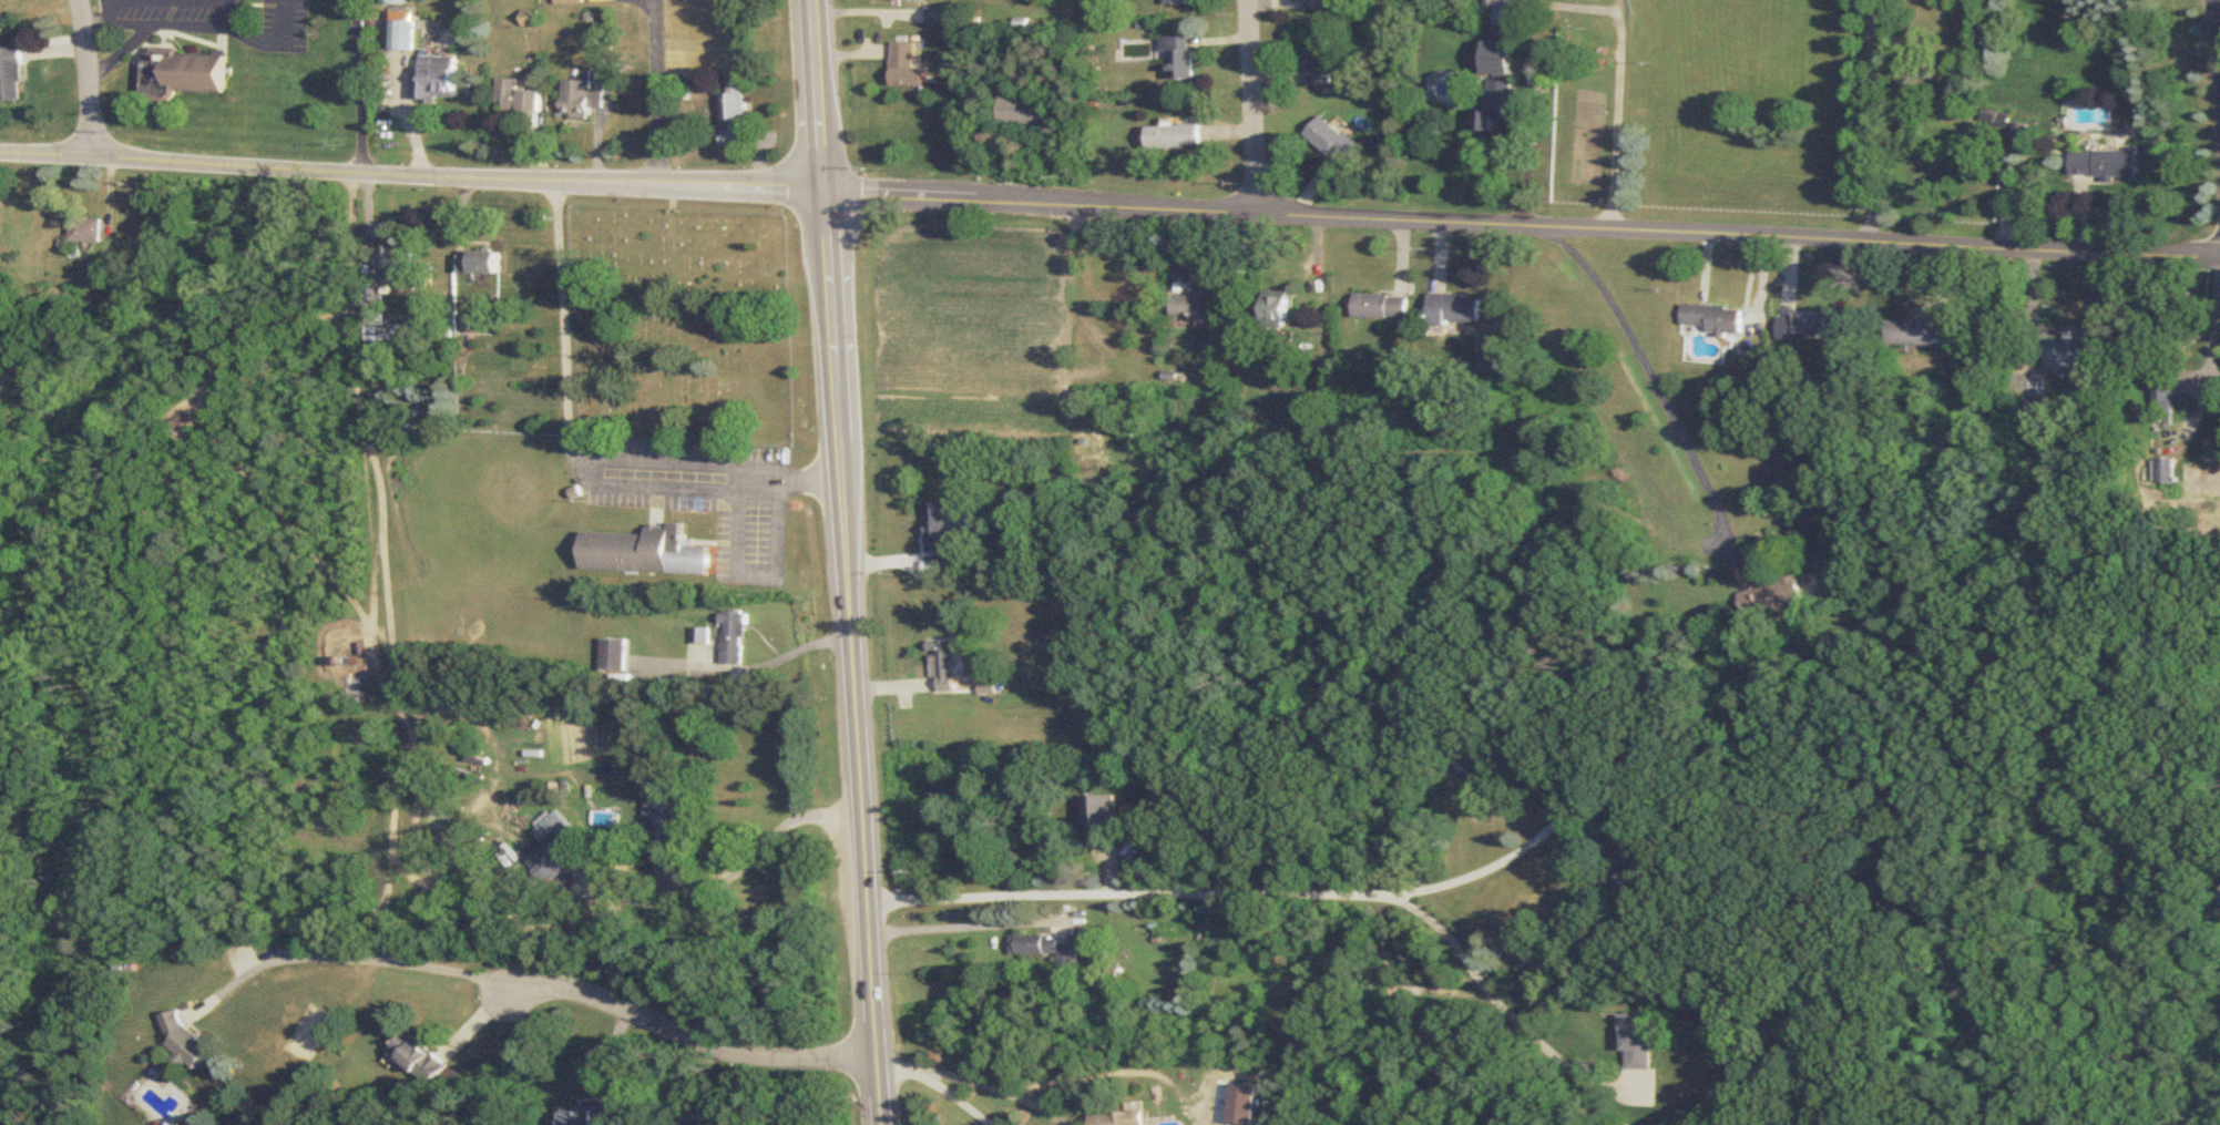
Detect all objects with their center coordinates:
building: (903, 0)
building: (3, 1)
building: (572, 2)
building: (1176, 2)
building: (1317, 4)
building: (1512, 12)
building: (940, 16)
road: (121, 24)
road: (205, 24)
building: (406, 31)
road: (2216, 35)
road: (279, 44)
road: (123, 50)
building: (1178, 58)
building: (1320, 59)
building: (1501, 64)
building: (907, 65)
building: (187, 71)
building: (12, 74)
road: (90, 78)
building: (438, 79)
road: (364, 86)
road: (658, 95)
building: (519, 98)
building: (583, 100)
building: (1497, 103)
road: (1258, 108)
building: (1027, 112)
building: (734, 115)
road: (1872, 120)
road: (416, 122)
road: (1618, 131)
building: (2022, 135)
building: (1176, 137)
building: (1332, 139)
road: (1532, 142)
building: (2105, 162)
road: (1109, 209)
building: (90, 231)
road: (828, 238)
building: (480, 264)
building: (401, 265)
building: (1198, 306)
building: (1278, 306)
building: (1383, 307)
building: (1456, 309)
building: (378, 313)
building: (1715, 319)
park: (702, 320)
building: (1810, 325)
building: (1913, 334)
road: (2218, 350)
building: (2067, 351)
road: (1657, 375)
building: (2032, 416)
building: (1142, 421)
road: (581, 454)
building: (2163, 471)
road: (738, 518)
building: (942, 533)
building: (647, 552)
road: (391, 565)
building: (1773, 597)
building: (736, 628)
building: (615, 657)
building: (943, 666)
road: (2114, 717)
building: (1463, 763)
road: (865, 800)
building: (667, 819)
building: (563, 851)
building: (1631, 857)
road: (1498, 862)
road: (726, 877)
road: (1276, 892)
road: (955, 925)
building: (1048, 949)
road: (355, 957)
road: (525, 986)
building: (1635, 1033)
building: (184, 1040)
road: (705, 1040)
building: (420, 1060)
road: (892, 1060)
building: (1670, 1075)
road: (992, 1086)
road: (951, 1091)
building: (594, 1116)
building: (1126, 1117)
building: (245, 1122)
building: (694, 1123)

